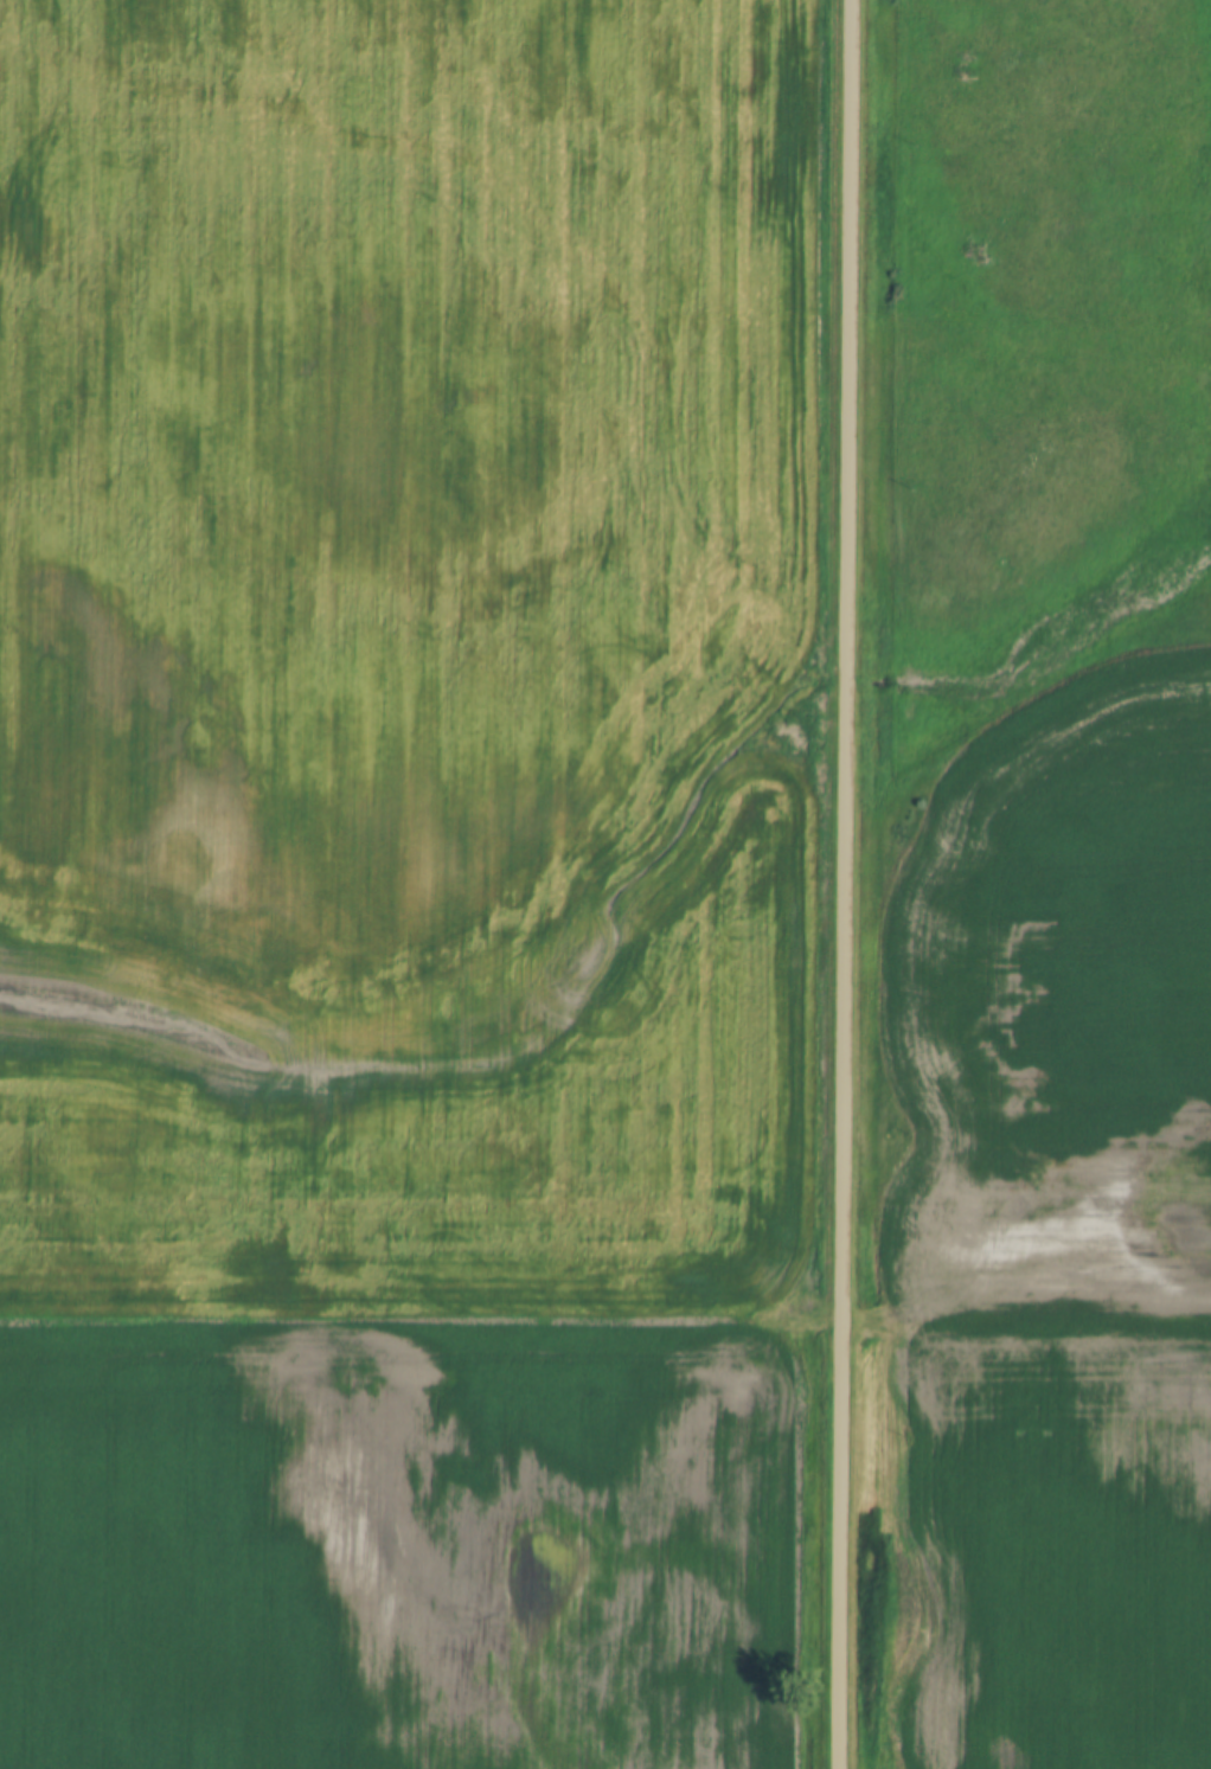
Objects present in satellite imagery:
road: (842, 884)

